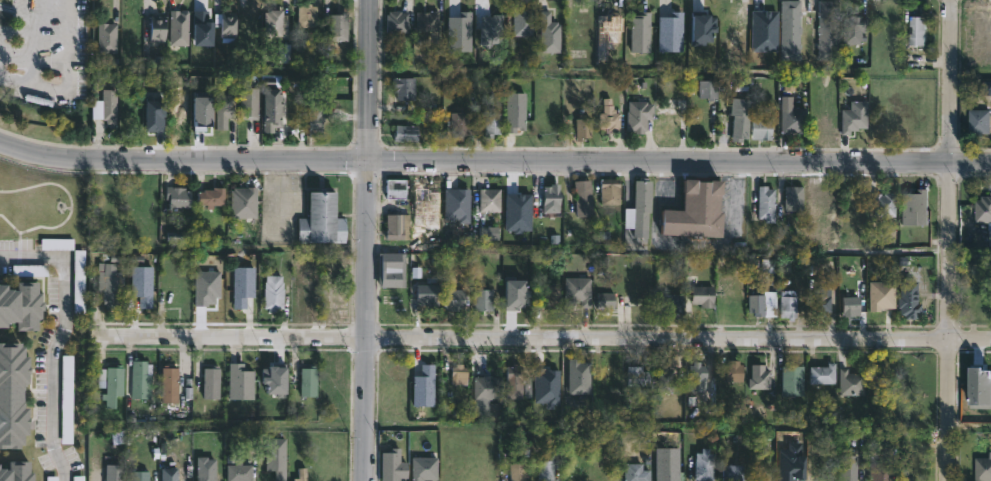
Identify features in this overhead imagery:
building: (306, 15)
building: (524, 20)
building: (398, 21)
building: (429, 21)
building: (273, 23)
building: (227, 24)
building: (701, 26)
building: (178, 27)
building: (203, 27)
building: (337, 27)
building: (761, 27)
building: (156, 28)
building: (852, 28)
building: (787, 30)
building: (826, 30)
building: (915, 30)
building: (458, 31)
building: (640, 31)
building: (670, 31)
road: (16, 32)
building: (548, 32)
building: (606, 32)
building: (498, 36)
building: (106, 38)
road: (32, 41)
building: (733, 42)
parking lot: (45, 50)
road: (68, 81)
building: (404, 88)
building: (705, 88)
building: (251, 104)
building: (108, 107)
building: (96, 109)
building: (225, 109)
building: (271, 110)
building: (515, 111)
building: (204, 112)
building: (156, 114)
building: (641, 115)
building: (610, 116)
building: (854, 117)
building: (737, 119)
building: (791, 120)
building: (315, 121)
building: (492, 121)
building: (976, 121)
building: (461, 126)
building: (584, 127)
building: (667, 127)
building: (758, 127)
building: (403, 133)
road: (493, 160)
building: (396, 188)
building: (612, 190)
building: (181, 196)
building: (211, 196)
building: (552, 196)
building: (583, 198)
building: (791, 198)
park: (41, 199)
road: (280, 199)
building: (491, 200)
building: (245, 201)
building: (458, 203)
building: (763, 203)
building: (883, 204)
building: (638, 205)
road: (70, 206)
building: (822, 206)
parking lot: (280, 207)
building: (427, 207)
building: (915, 209)
building: (518, 210)
building: (694, 210)
building: (982, 210)
building: (321, 219)
building: (396, 226)
building: (491, 234)
building: (578, 236)
road: (369, 240)
road: (949, 240)
road: (27, 255)
building: (394, 269)
building: (112, 285)
building: (141, 285)
building: (209, 287)
building: (242, 287)
building: (644, 287)
building: (580, 290)
building: (275, 293)
building: (516, 293)
building: (426, 295)
building: (704, 295)
building: (455, 299)
building: (554, 299)
building: (906, 299)
building: (484, 300)
building: (607, 302)
building: (671, 302)
building: (819, 302)
building: (754, 304)
building: (875, 304)
building: (20, 305)
building: (852, 305)
building: (786, 307)
road: (541, 338)
road: (52, 365)
building: (736, 371)
building: (822, 374)
building: (460, 376)
building: (578, 376)
building: (640, 376)
building: (759, 376)
building: (276, 378)
building: (697, 378)
building: (142, 380)
building: (607, 380)
building: (791, 380)
building: (310, 381)
building: (664, 381)
building: (850, 381)
building: (240, 382)
building: (515, 382)
building: (110, 383)
building: (214, 383)
building: (169, 385)
building: (551, 385)
building: (883, 385)
building: (914, 385)
building: (976, 385)
building: (424, 386)
building: (483, 387)
building: (188, 388)
building: (12, 396)
building: (67, 400)
building: (276, 457)
building: (791, 460)
building: (668, 461)
building: (607, 462)
building: (707, 465)
building: (393, 466)
building: (548, 466)
building: (982, 468)
building: (205, 469)
building: (423, 469)
building: (15, 470)
building: (520, 470)
building: (634, 471)
building: (735, 471)
building: (241, 472)
building: (845, 472)
building: (880, 472)
building: (112, 473)
building: (301, 474)
building: (138, 475)
building: (169, 475)
building: (79, 478)
building: (53, 479)

